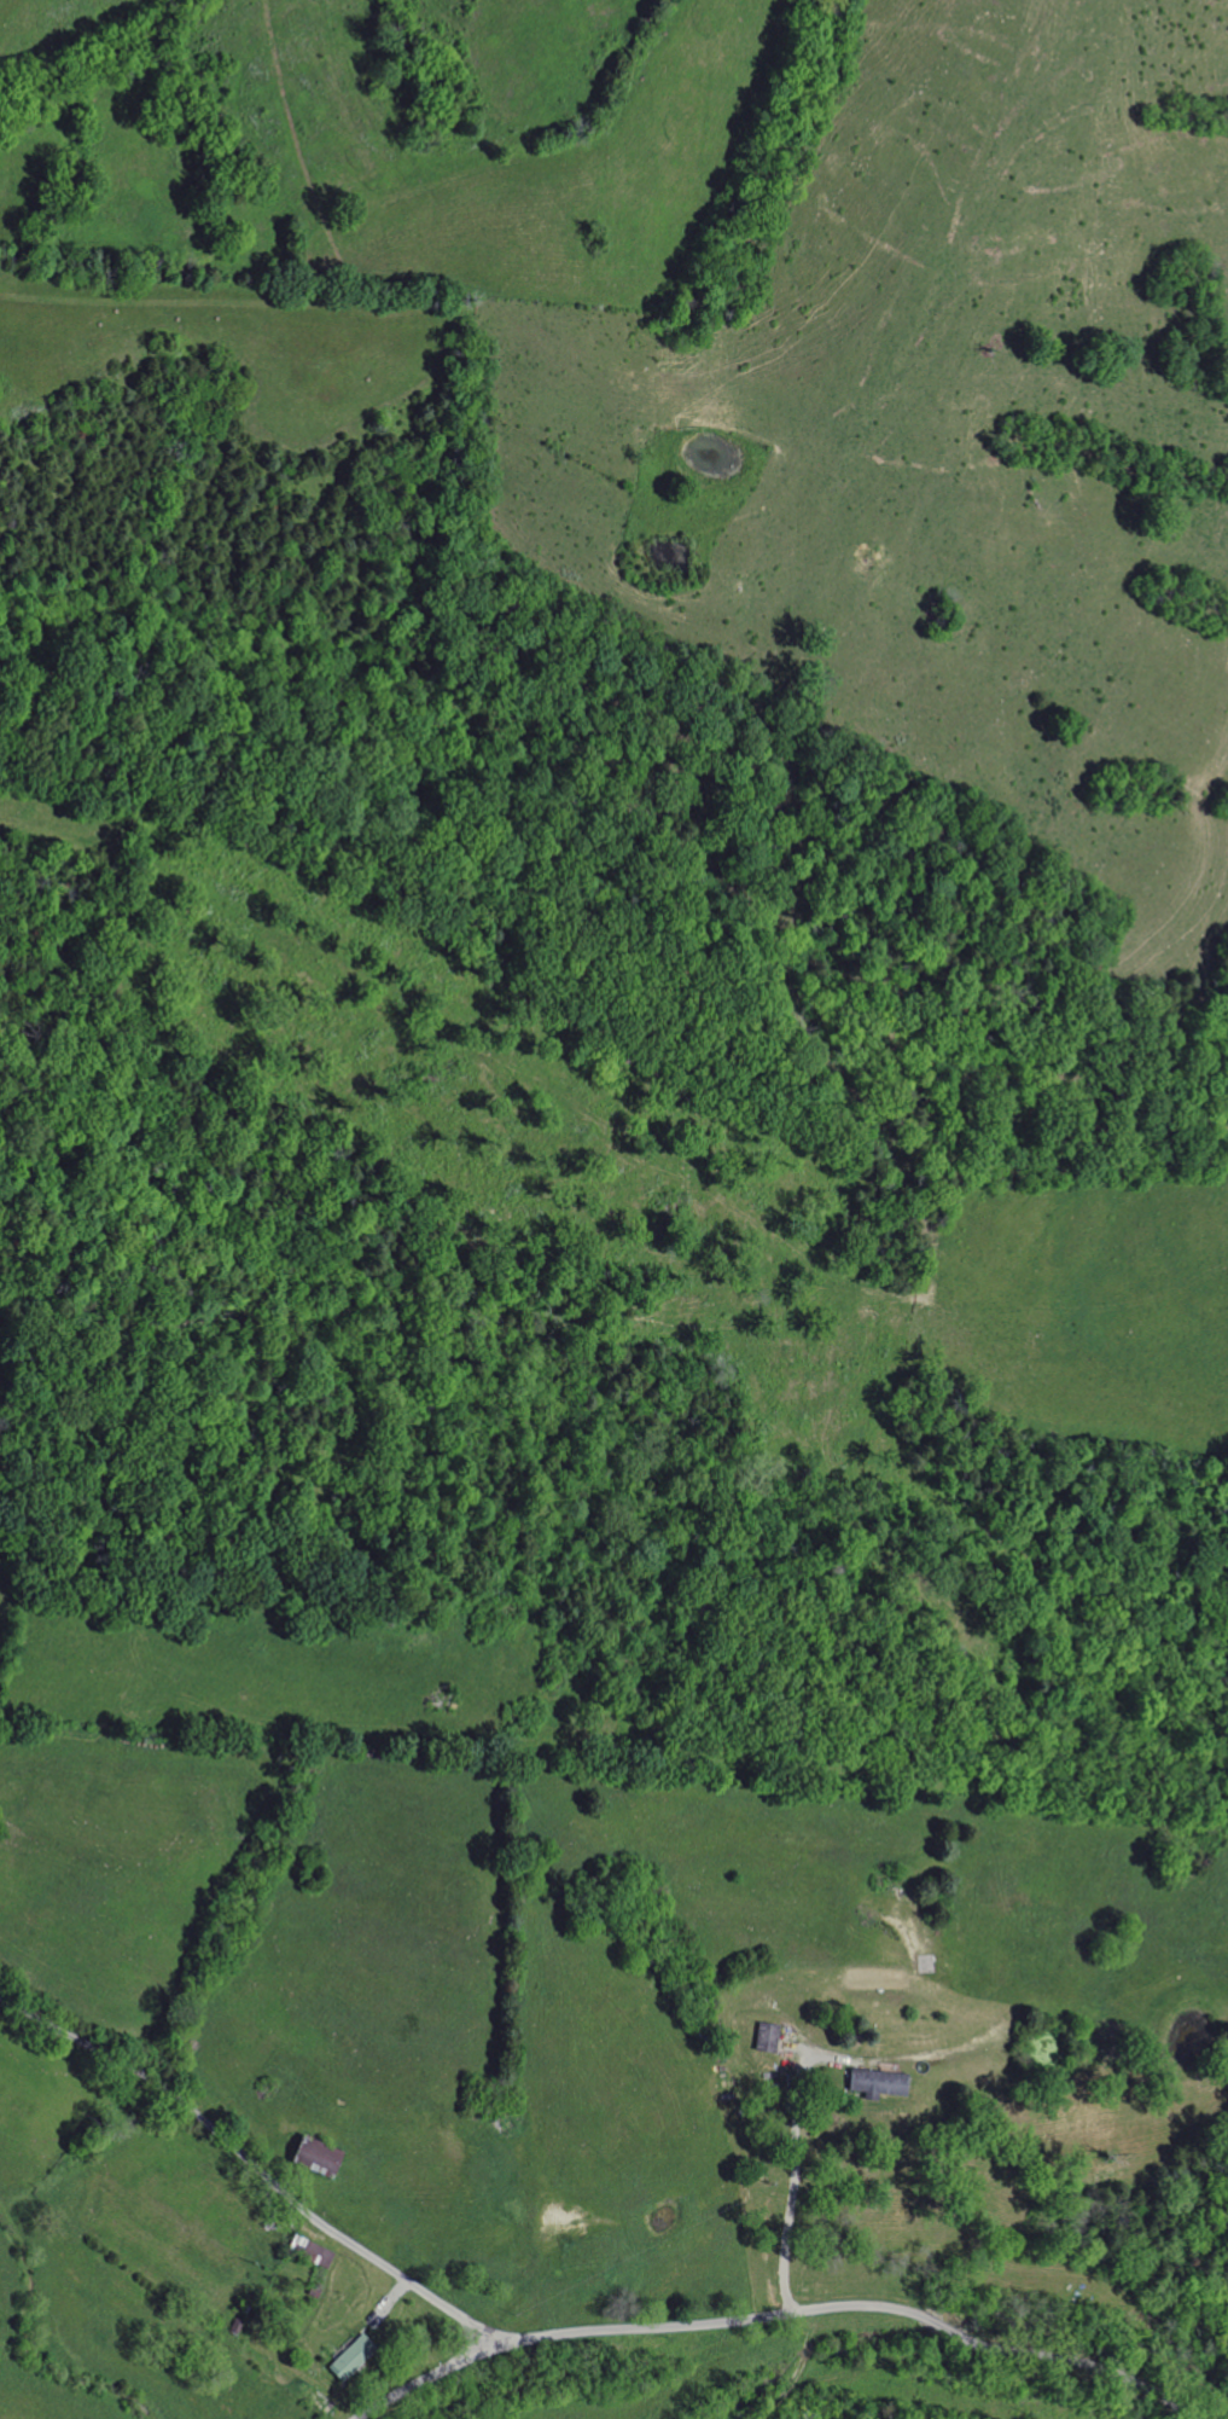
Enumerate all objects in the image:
building: (874, 2082)
building: (309, 2156)
road: (250, 2166)
road: (790, 2218)
building: (314, 2253)
road: (779, 2310)
building: (347, 2357)

